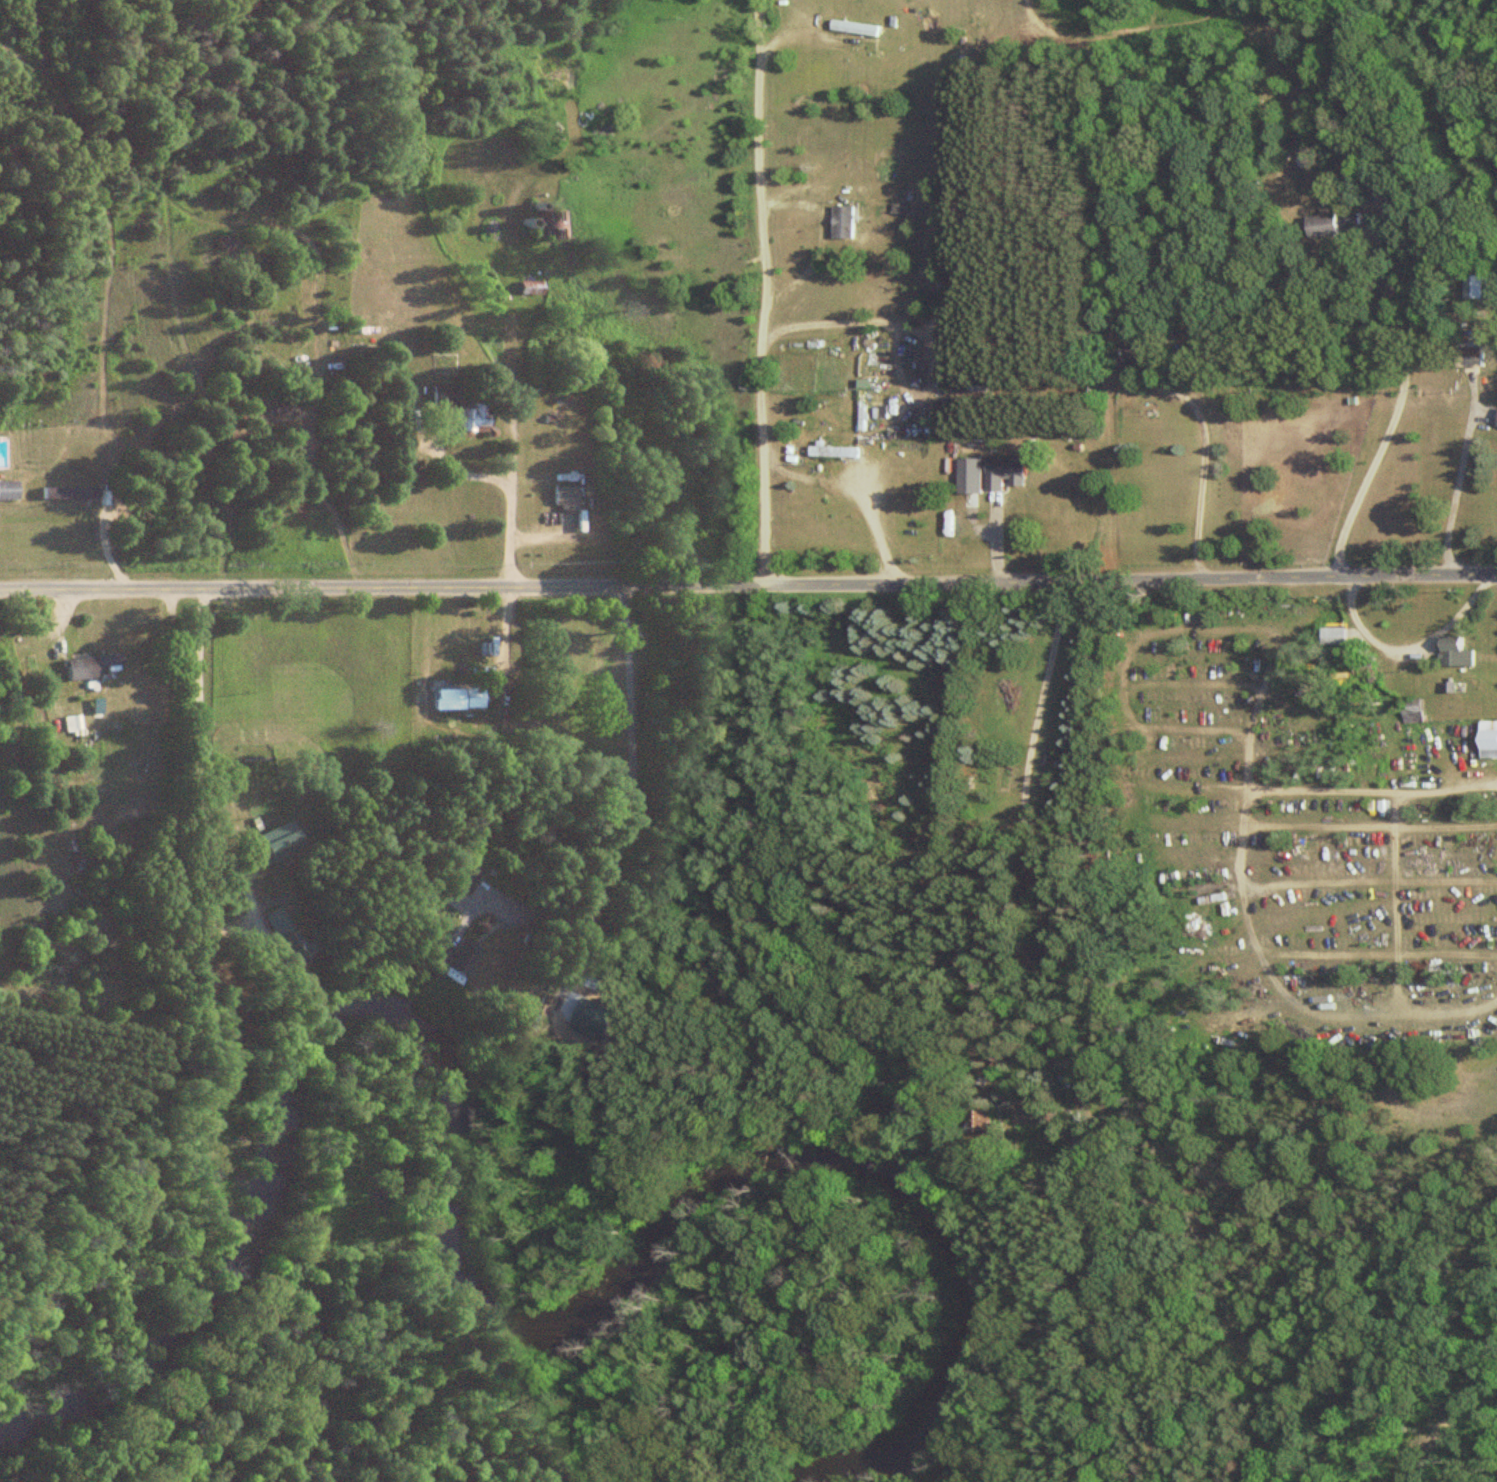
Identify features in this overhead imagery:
building: (858, 28)
building: (848, 219)
building: (1323, 226)
building: (531, 289)
road: (772, 291)
road: (892, 322)
building: (465, 408)
road: (1393, 415)
building: (838, 452)
building: (1009, 473)
road: (1202, 473)
road: (512, 484)
building: (8, 491)
road: (863, 492)
road: (1455, 492)
building: (69, 493)
building: (567, 495)
road: (748, 584)
building: (1339, 637)
road: (1409, 649)
building: (1459, 653)
building: (90, 667)
building: (459, 700)
building: (1413, 711)
building: (73, 725)
road: (198, 752)
road: (631, 799)
road: (1025, 811)
building: (283, 841)
building: (467, 878)
road: (1243, 887)
building: (1214, 898)
road: (534, 920)
building: (285, 936)
building: (464, 954)
river: (470, 1286)

